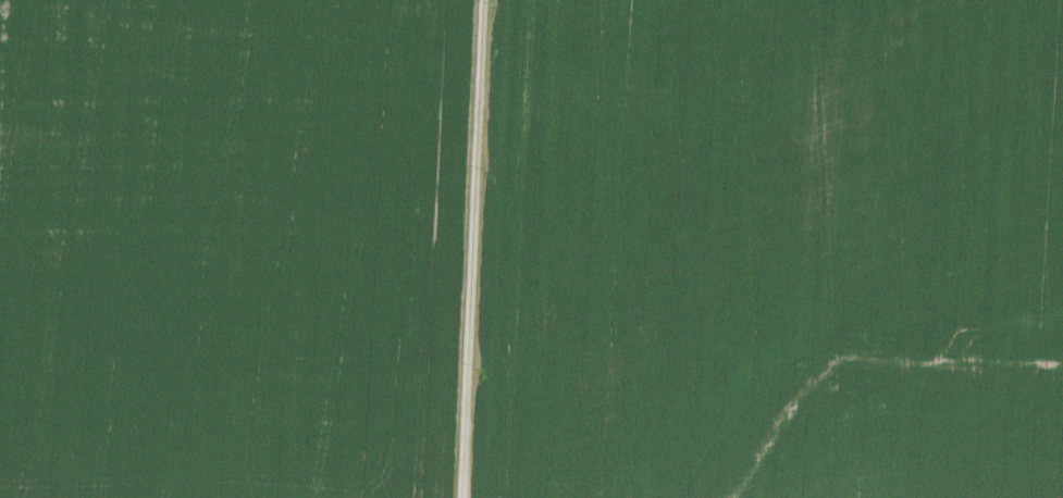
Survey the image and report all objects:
road: (473, 248)

